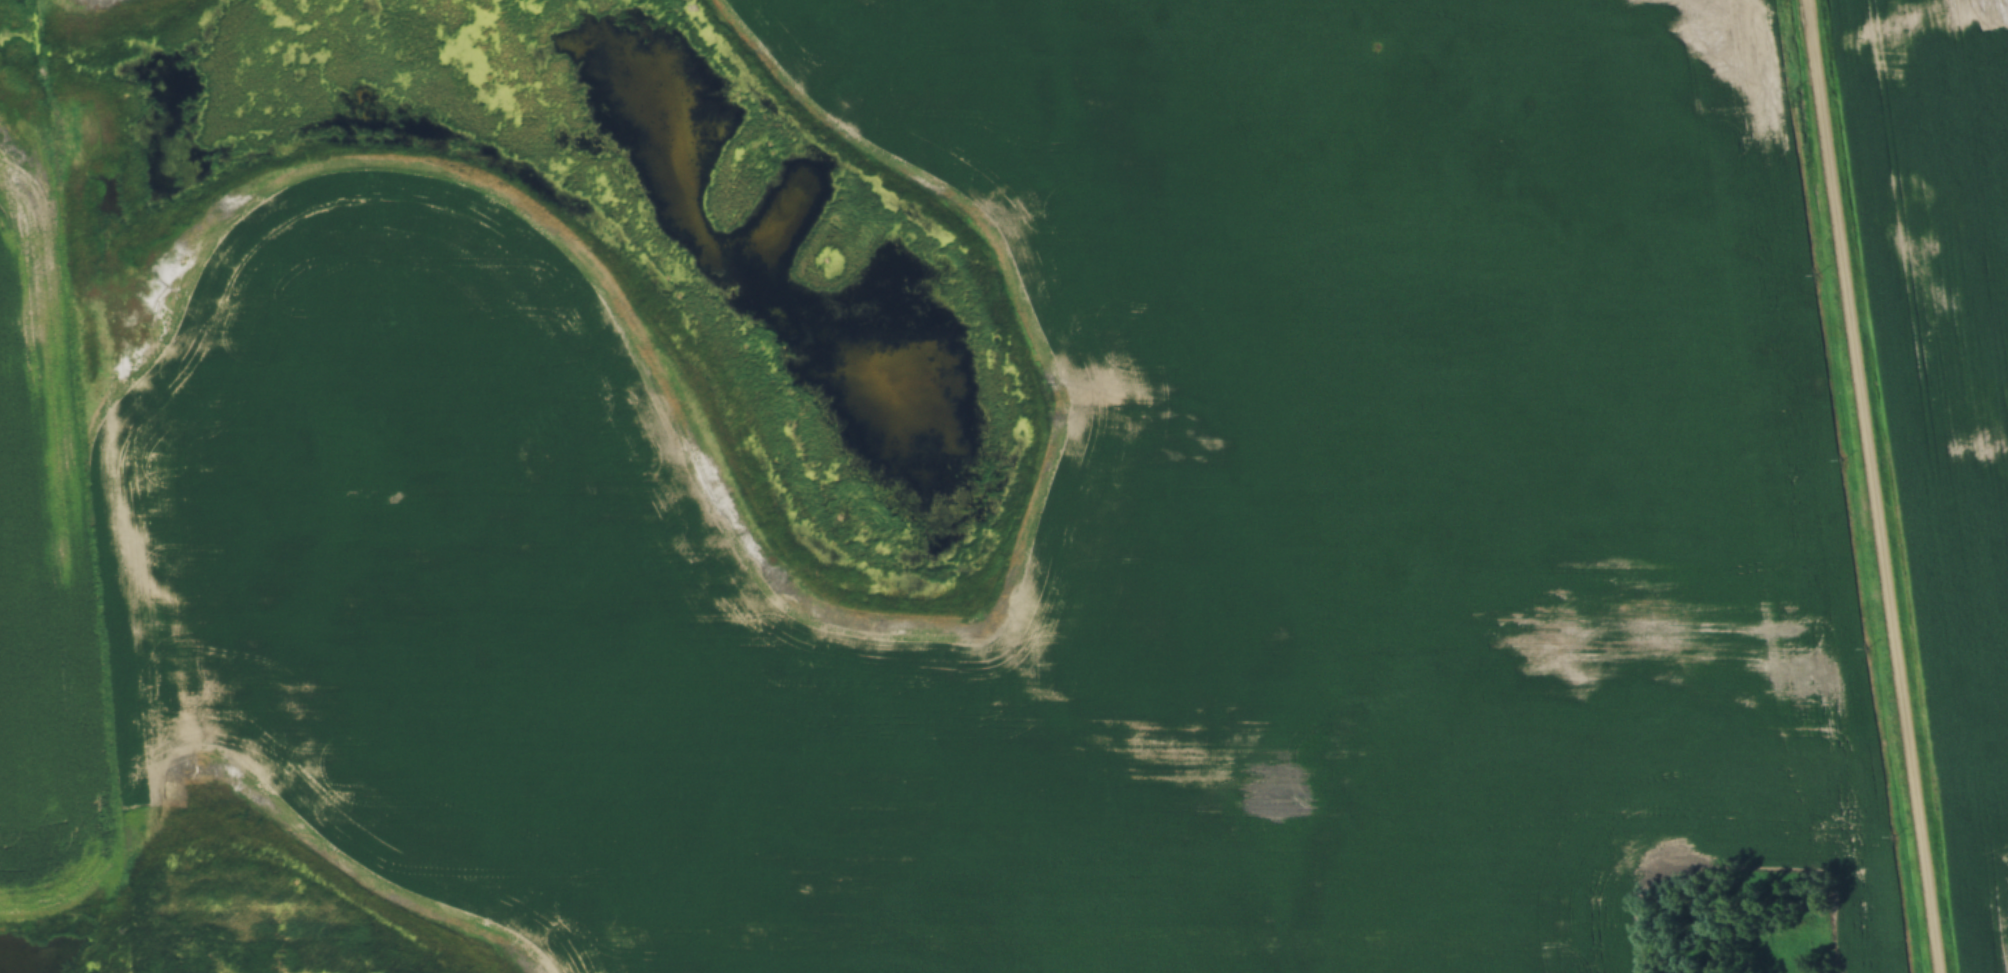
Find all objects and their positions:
road: (1869, 486)

